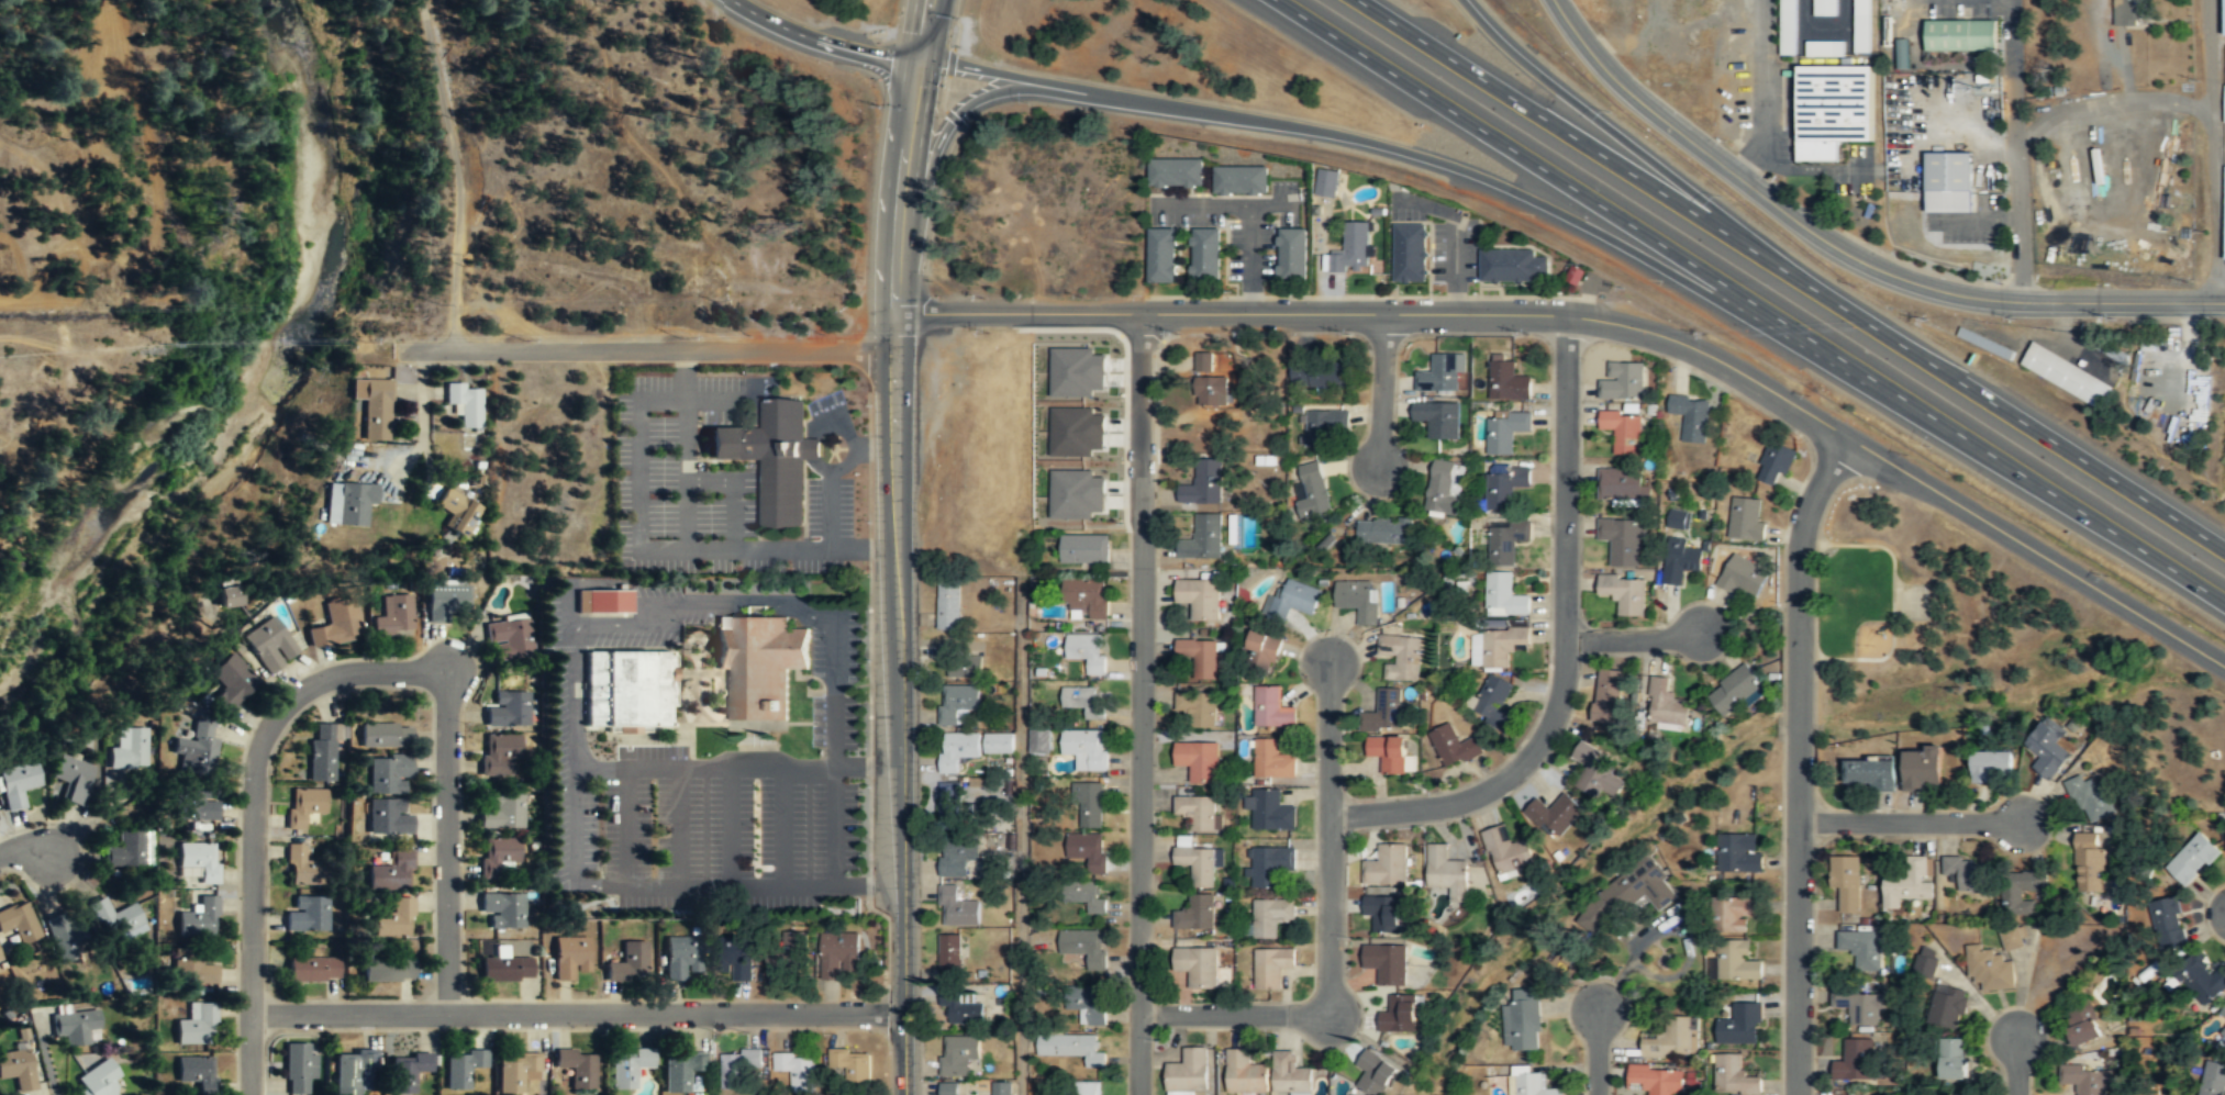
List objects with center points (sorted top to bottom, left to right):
building: (1825, 7)
building: (2131, 11)
building: (2224, 11)
building: (1861, 25)
building: (1789, 27)
road: (923, 30)
building: (1960, 35)
road: (822, 40)
building: (1825, 47)
building: (1902, 54)
road: (1020, 75)
building: (2098, 81)
road: (1765, 92)
road: (2114, 100)
building: (2224, 104)
building: (1833, 108)
road: (963, 109)
road: (446, 125)
road: (1627, 141)
road: (2014, 149)
road: (2217, 149)
building: (1176, 175)
building: (1241, 181)
building: (1325, 182)
building: (1948, 182)
road: (1525, 195)
road: (899, 205)
road: (1273, 205)
road: (1251, 210)
building: (2224, 215)
road: (1456, 234)
building: (1351, 250)
road: (1845, 252)
building: (1411, 254)
building: (1162, 255)
building: (1206, 255)
building: (1292, 255)
building: (1513, 266)
road: (1792, 273)
building: (1573, 275)
road: (453, 301)
road: (1750, 301)
road: (1605, 320)
building: (1985, 343)
road: (646, 350)
building: (1204, 360)
building: (1075, 371)
building: (1442, 373)
building: (2067, 375)
building: (1319, 376)
building: (1622, 380)
building: (1506, 382)
road: (1381, 389)
building: (1211, 390)
river: (252, 398)
street lamp: (1546, 402)
street lamp: (870, 404)
building: (465, 405)
building: (374, 406)
road: (422, 415)
building: (1689, 416)
building: (358, 420)
building: (1438, 420)
building: (1322, 426)
building: (1621, 429)
building: (1075, 431)
building: (1502, 434)
street lamp: (1801, 439)
building: (774, 457)
building: (1775, 459)
building: (1620, 482)
building: (1203, 483)
building: (1503, 485)
building: (1445, 488)
building: (1312, 490)
road: (895, 493)
building: (1073, 493)
building: (348, 503)
building: (456, 511)
street lamp: (1548, 514)
building: (1677, 518)
building: (1744, 518)
street lamp: (871, 522)
building: (1384, 533)
building: (1203, 539)
building: (1620, 539)
building: (1505, 543)
building: (1086, 549)
building: (1679, 559)
building: (1740, 574)
building: (1624, 593)
road: (1893, 593)
building: (233, 595)
building: (1503, 595)
building: (1086, 599)
building: (1200, 599)
building: (1358, 600)
building: (1292, 601)
park: (1861, 602)
park: (1910, 602)
building: (445, 603)
building: (603, 603)
street lamp: (1780, 603)
road: (697, 605)
building: (949, 606)
building: (394, 616)
street lamp: (1661, 621)
building: (335, 626)
road: (1635, 637)
building: (510, 638)
building: (268, 645)
building: (1500, 646)
road: (1564, 647)
building: (1264, 651)
building: (1087, 653)
building: (1199, 657)
building: (1401, 658)
street lamp: (871, 659)
building: (759, 663)
building: (965, 667)
street lamp: (1546, 673)
building: (229, 684)
road: (834, 688)
building: (1732, 689)
building: (628, 690)
building: (1605, 695)
building: (1086, 701)
building: (1664, 702)
road: (1141, 703)
building: (1493, 703)
building: (958, 704)
building: (1273, 707)
building: (1198, 708)
building: (508, 711)
building: (1387, 712)
building: (386, 736)
building: (1039, 741)
building: (999, 744)
building: (1451, 744)
building: (2048, 747)
building: (1086, 748)
building: (129, 749)
building: (197, 750)
building: (958, 751)
building: (1387, 751)
building: (323, 752)
building: (497, 752)
road: (1799, 759)
building: (1273, 760)
building: (1199, 761)
building: (1990, 764)
road: (702, 766)
building: (1921, 767)
building: (1594, 769)
building: (1871, 772)
building: (388, 775)
building: (73, 778)
building: (16, 785)
street lamp: (871, 785)
street lamp: (1417, 789)
building: (2091, 795)
building: (953, 804)
building: (1091, 804)
building: (193, 806)
building: (304, 806)
road: (252, 809)
building: (1269, 811)
building: (503, 812)
building: (1198, 813)
parking lot: (704, 815)
building: (1556, 815)
building: (388, 818)
road: (1911, 820)
road: (730, 825)
road: (782, 825)
road: (625, 826)
road: (677, 826)
road: (1022, 835)
road: (1330, 837)
road: (446, 842)
road: (24, 848)
building: (1088, 850)
building: (2224, 850)
building: (126, 851)
building: (1738, 851)
building: (1508, 852)
building: (499, 859)
building: (2193, 859)
building: (955, 860)
building: (198, 861)
building: (2090, 861)
road: (904, 863)
building: (303, 865)
building: (1198, 865)
building: (1270, 865)
building: (1387, 868)
building: (391, 873)
building: (1448, 873)
building: (1967, 873)
building: (1846, 882)
building: (1909, 883)
road: (668, 885)
building: (2021, 890)
building: (1628, 895)
building: (1084, 896)
building: (957, 908)
building: (503, 912)
building: (1734, 913)
building: (307, 914)
building: (1383, 914)
building: (200, 915)
building: (1197, 915)
building: (1271, 918)
building: (115, 920)
building: (393, 920)
building: (19, 923)
building: (2168, 923)
building: (66, 937)
building: (2012, 937)
building: (1084, 947)
building: (1862, 949)
building: (841, 953)
building: (1, 956)
building: (569, 958)
building: (681, 958)
building: (950, 958)
building: (783, 959)
building: (1734, 959)
building: (737, 961)
building: (1927, 961)
building: (627, 963)
building: (1387, 964)
building: (1198, 965)
building: (1990, 966)
building: (1271, 968)
building: (504, 969)
building: (313, 970)
building: (386, 970)
building: (193, 972)
building: (2202, 979)
building: (1089, 1004)
building: (1949, 1006)
building: (1859, 1007)
building: (963, 1010)
building: (2222, 1010)
road: (1234, 1014)
road: (578, 1015)
building: (1399, 1016)
building: (1523, 1021)
building: (2082, 1025)
building: (197, 1026)
building: (1739, 1026)
building: (77, 1028)
building: (2223, 1031)
street lamp: (387, 1033)
street lamp: (597, 1033)
street lamp: (831, 1033)
building: (1672, 1039)
building: (1072, 1047)
road: (1595, 1051)
building: (959, 1055)
building: (1954, 1058)
building: (1854, 1062)
building: (852, 1064)
road: (2017, 1064)
building: (461, 1066)
building: (742, 1066)
building: (628, 1068)
building: (298, 1069)
building: (577, 1069)
building: (681, 1069)
building: (18, 1070)
building: (798, 1070)
building: (516, 1072)
building: (1188, 1072)
building: (196, 1073)
building: (353, 1073)
building: (407, 1073)
building: (1375, 1073)
building: (1245, 1074)
building: (1290, 1075)
building: (1733, 1076)
building: (2213, 1079)
building: (97, 1080)
building: (1655, 1080)
building: (2088, 1080)
building: (1531, 1083)
building: (0, 1087)
building: (1000, 1087)
building: (1091, 1088)
building: (950, 1090)
building: (0, 1094)

